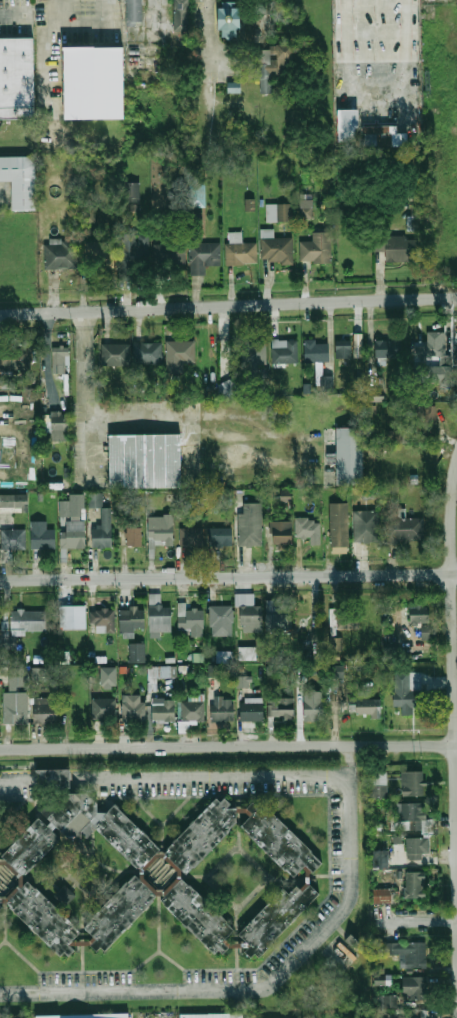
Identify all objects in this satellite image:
building: (146, 2)
road: (54, 9)
road: (106, 10)
building: (136, 12)
building: (184, 15)
building: (232, 20)
parking lot: (202, 22)
road: (46, 32)
road: (214, 35)
building: (259, 57)
parking lot: (239, 58)
building: (279, 66)
parking lot: (211, 77)
building: (17, 78)
building: (95, 84)
building: (237, 87)
road: (377, 93)
road: (213, 121)
building: (349, 125)
building: (381, 136)
building: (21, 176)
building: (132, 192)
building: (195, 193)
building: (307, 211)
building: (278, 213)
building: (412, 223)
building: (314, 247)
building: (400, 248)
building: (276, 249)
building: (134, 252)
building: (238, 252)
building: (102, 253)
building: (171, 254)
building: (61, 255)
building: (200, 256)
road: (228, 307)
building: (357, 345)
building: (388, 348)
building: (343, 349)
building: (253, 352)
building: (316, 352)
building: (148, 353)
building: (115, 354)
building: (180, 354)
building: (287, 354)
building: (62, 357)
building: (12, 358)
building: (438, 358)
building: (358, 382)
building: (9, 383)
building: (328, 384)
building: (306, 387)
building: (228, 389)
building: (376, 393)
road: (86, 403)
building: (59, 423)
building: (416, 427)
building: (349, 456)
building: (145, 459)
building: (285, 495)
building: (95, 499)
building: (13, 501)
building: (339, 524)
building: (250, 525)
building: (366, 526)
building: (105, 529)
building: (309, 529)
building: (134, 530)
building: (162, 530)
building: (406, 530)
building: (281, 533)
building: (76, 534)
building: (44, 535)
building: (192, 537)
building: (222, 537)
building: (13, 539)
road: (228, 577)
building: (279, 613)
building: (417, 613)
building: (160, 614)
building: (253, 617)
building: (348, 617)
road: (453, 617)
building: (73, 618)
building: (189, 618)
building: (103, 619)
building: (133, 619)
building: (29, 620)
building: (222, 621)
building: (428, 631)
building: (8, 635)
building: (335, 643)
building: (249, 651)
building: (138, 653)
building: (226, 654)
building: (66, 656)
building: (200, 656)
building: (213, 670)
building: (337, 671)
building: (41, 672)
building: (110, 675)
building: (157, 675)
building: (245, 679)
building: (406, 692)
building: (16, 697)
building: (365, 707)
building: (133, 708)
building: (284, 708)
building: (104, 709)
building: (222, 709)
building: (312, 709)
building: (47, 710)
building: (162, 710)
building: (192, 711)
building: (251, 711)
road: (228, 746)
road: (13, 766)
building: (53, 778)
road: (208, 779)
road: (19, 780)
road: (54, 780)
building: (379, 784)
building: (412, 784)
building: (70, 808)
building: (412, 818)
building: (127, 836)
building: (202, 836)
building: (279, 840)
building: (31, 847)
building: (417, 848)
building: (380, 859)
building: (0, 860)
building: (415, 885)
building: (383, 893)
building: (64, 895)
building: (1, 907)
building: (120, 913)
building: (199, 916)
building: (44, 918)
building: (277, 918)
road: (420, 922)
building: (348, 944)
building: (407, 953)
road: (268, 982)
building: (414, 987)
building: (387, 1001)
building: (87, 1014)
building: (409, 1014)
building: (214, 1015)

